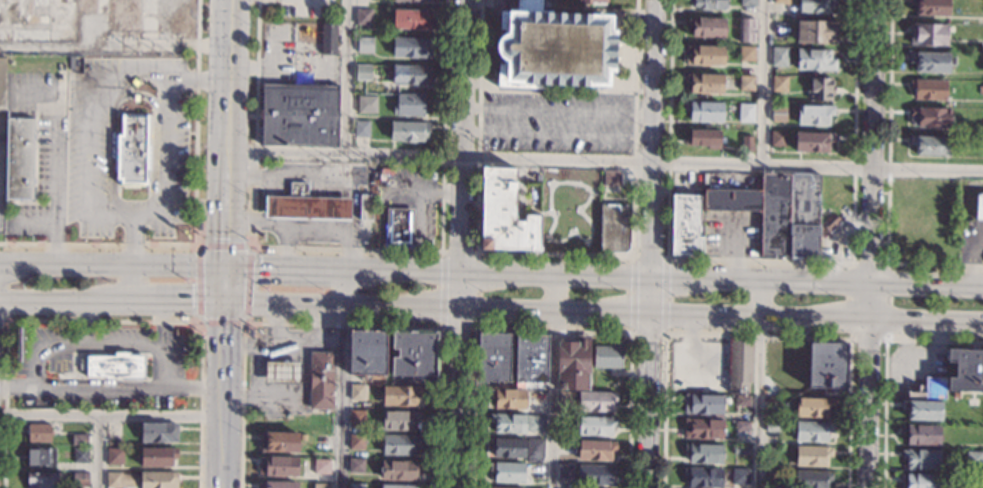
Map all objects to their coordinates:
building: (414, 0)
building: (591, 1)
building: (747, 2)
building: (780, 2)
building: (709, 4)
parking lot: (305, 7)
building: (815, 7)
building: (931, 7)
building: (363, 16)
building: (412, 20)
building: (707, 27)
building: (745, 31)
building: (816, 31)
building: (928, 34)
building: (328, 38)
building: (364, 45)
building: (411, 48)
building: (554, 48)
building: (746, 53)
building: (704, 55)
building: (779, 56)
building: (814, 59)
building: (71, 63)
building: (931, 63)
building: (363, 72)
building: (409, 75)
road: (343, 77)
building: (2, 83)
building: (705, 83)
building: (746, 83)
building: (779, 83)
road: (764, 84)
road: (126, 85)
building: (821, 89)
building: (929, 89)
road: (89, 90)
building: (980, 90)
road: (149, 98)
building: (367, 105)
building: (409, 105)
building: (704, 111)
road: (556, 112)
building: (745, 112)
building: (778, 113)
building: (299, 114)
building: (814, 115)
building: (929, 117)
building: (361, 128)
building: (409, 131)
road: (225, 136)
road: (556, 137)
building: (777, 138)
building: (704, 139)
building: (813, 143)
building: (746, 144)
building: (930, 145)
building: (130, 151)
building: (19, 159)
road: (107, 159)
road: (871, 160)
road: (604, 162)
road: (167, 164)
road: (312, 176)
building: (622, 176)
building: (611, 177)
road: (55, 179)
building: (904, 193)
building: (306, 205)
building: (978, 206)
building: (365, 207)
building: (778, 211)
building: (533, 214)
road: (124, 215)
road: (195, 219)
building: (830, 222)
building: (686, 225)
road: (305, 227)
building: (398, 227)
building: (614, 228)
road: (130, 242)
road: (457, 243)
road: (649, 243)
road: (284, 249)
road: (27, 267)
road: (92, 268)
road: (176, 271)
road: (274, 272)
traffic signals: (222, 273)
road: (655, 276)
road: (129, 288)
road: (221, 291)
road: (64, 305)
road: (145, 307)
road: (191, 307)
traffic signals: (220, 309)
road: (544, 312)
road: (245, 318)
road: (3, 320)
road: (101, 320)
road: (926, 323)
road: (73, 343)
road: (161, 348)
building: (367, 352)
building: (414, 354)
building: (494, 357)
building: (607, 357)
building: (531, 358)
building: (573, 364)
building: (740, 364)
building: (827, 366)
road: (39, 367)
building: (115, 367)
building: (965, 371)
building: (281, 373)
road: (343, 380)
building: (321, 381)
road: (554, 381)
road: (757, 383)
road: (220, 385)
building: (928, 389)
road: (110, 390)
building: (358, 392)
building: (399, 396)
building: (565, 397)
building: (507, 398)
building: (596, 401)
building: (742, 401)
building: (704, 404)
road: (867, 404)
building: (812, 407)
building: (921, 409)
road: (110, 416)
building: (356, 417)
building: (401, 420)
building: (508, 423)
building: (534, 423)
building: (596, 426)
building: (742, 426)
building: (771, 426)
building: (703, 429)
building: (812, 431)
building: (37, 433)
building: (158, 433)
building: (923, 435)
building: (79, 439)
building: (356, 441)
building: (279, 442)
building: (399, 444)
building: (508, 447)
building: (535, 448)
building: (595, 450)
building: (740, 450)
road: (99, 452)
building: (704, 453)
building: (79, 456)
building: (113, 456)
building: (812, 456)
building: (39, 457)
building: (156, 458)
building: (921, 459)
building: (355, 465)
building: (278, 466)
building: (321, 466)
building: (400, 470)
building: (564, 471)
building: (506, 472)
road: (219, 474)
building: (595, 474)
building: (703, 478)
building: (739, 478)
building: (771, 478)
building: (120, 479)
building: (812, 479)
building: (44, 480)
building: (80, 480)
building: (158, 480)
building: (920, 481)
building: (982, 483)
building: (278, 485)
building: (321, 485)
building: (356, 486)
building: (397, 486)
building: (500, 487)
building: (530, 487)

